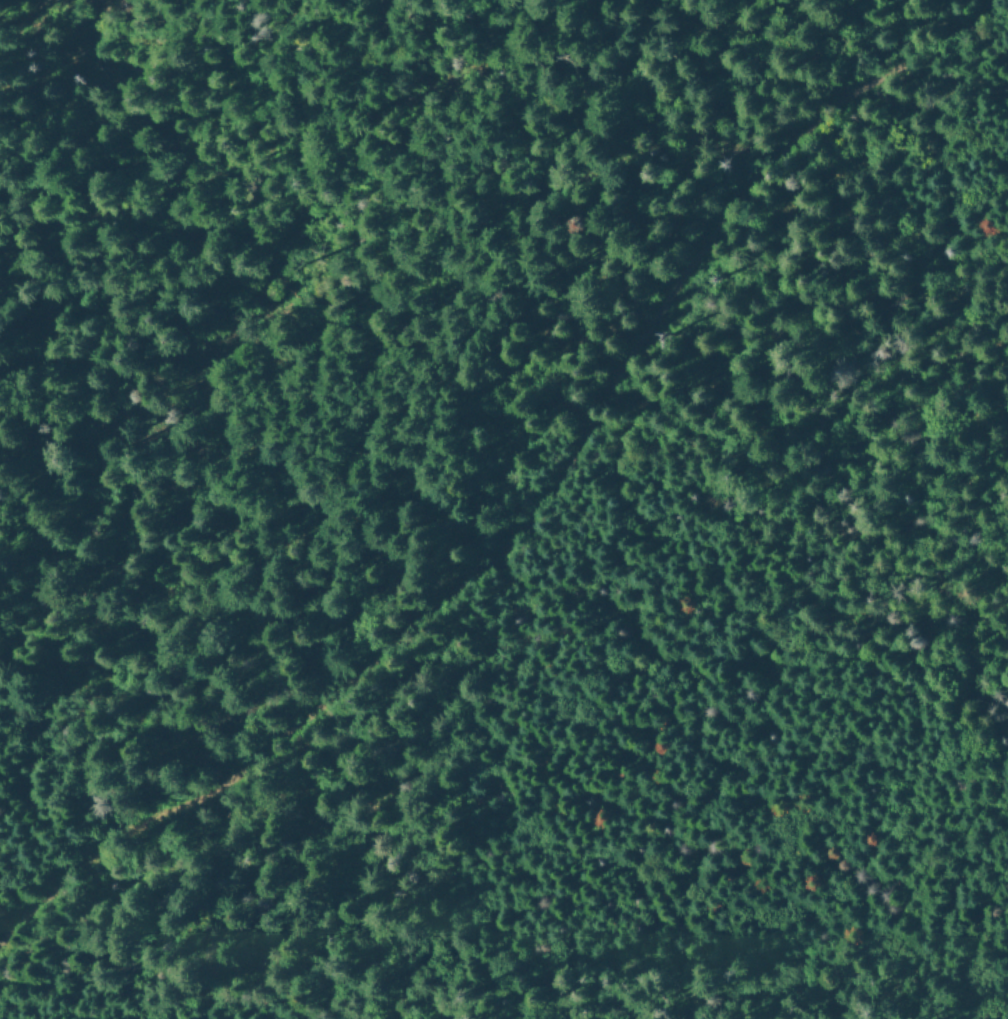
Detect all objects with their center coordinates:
road: (537, 492)

